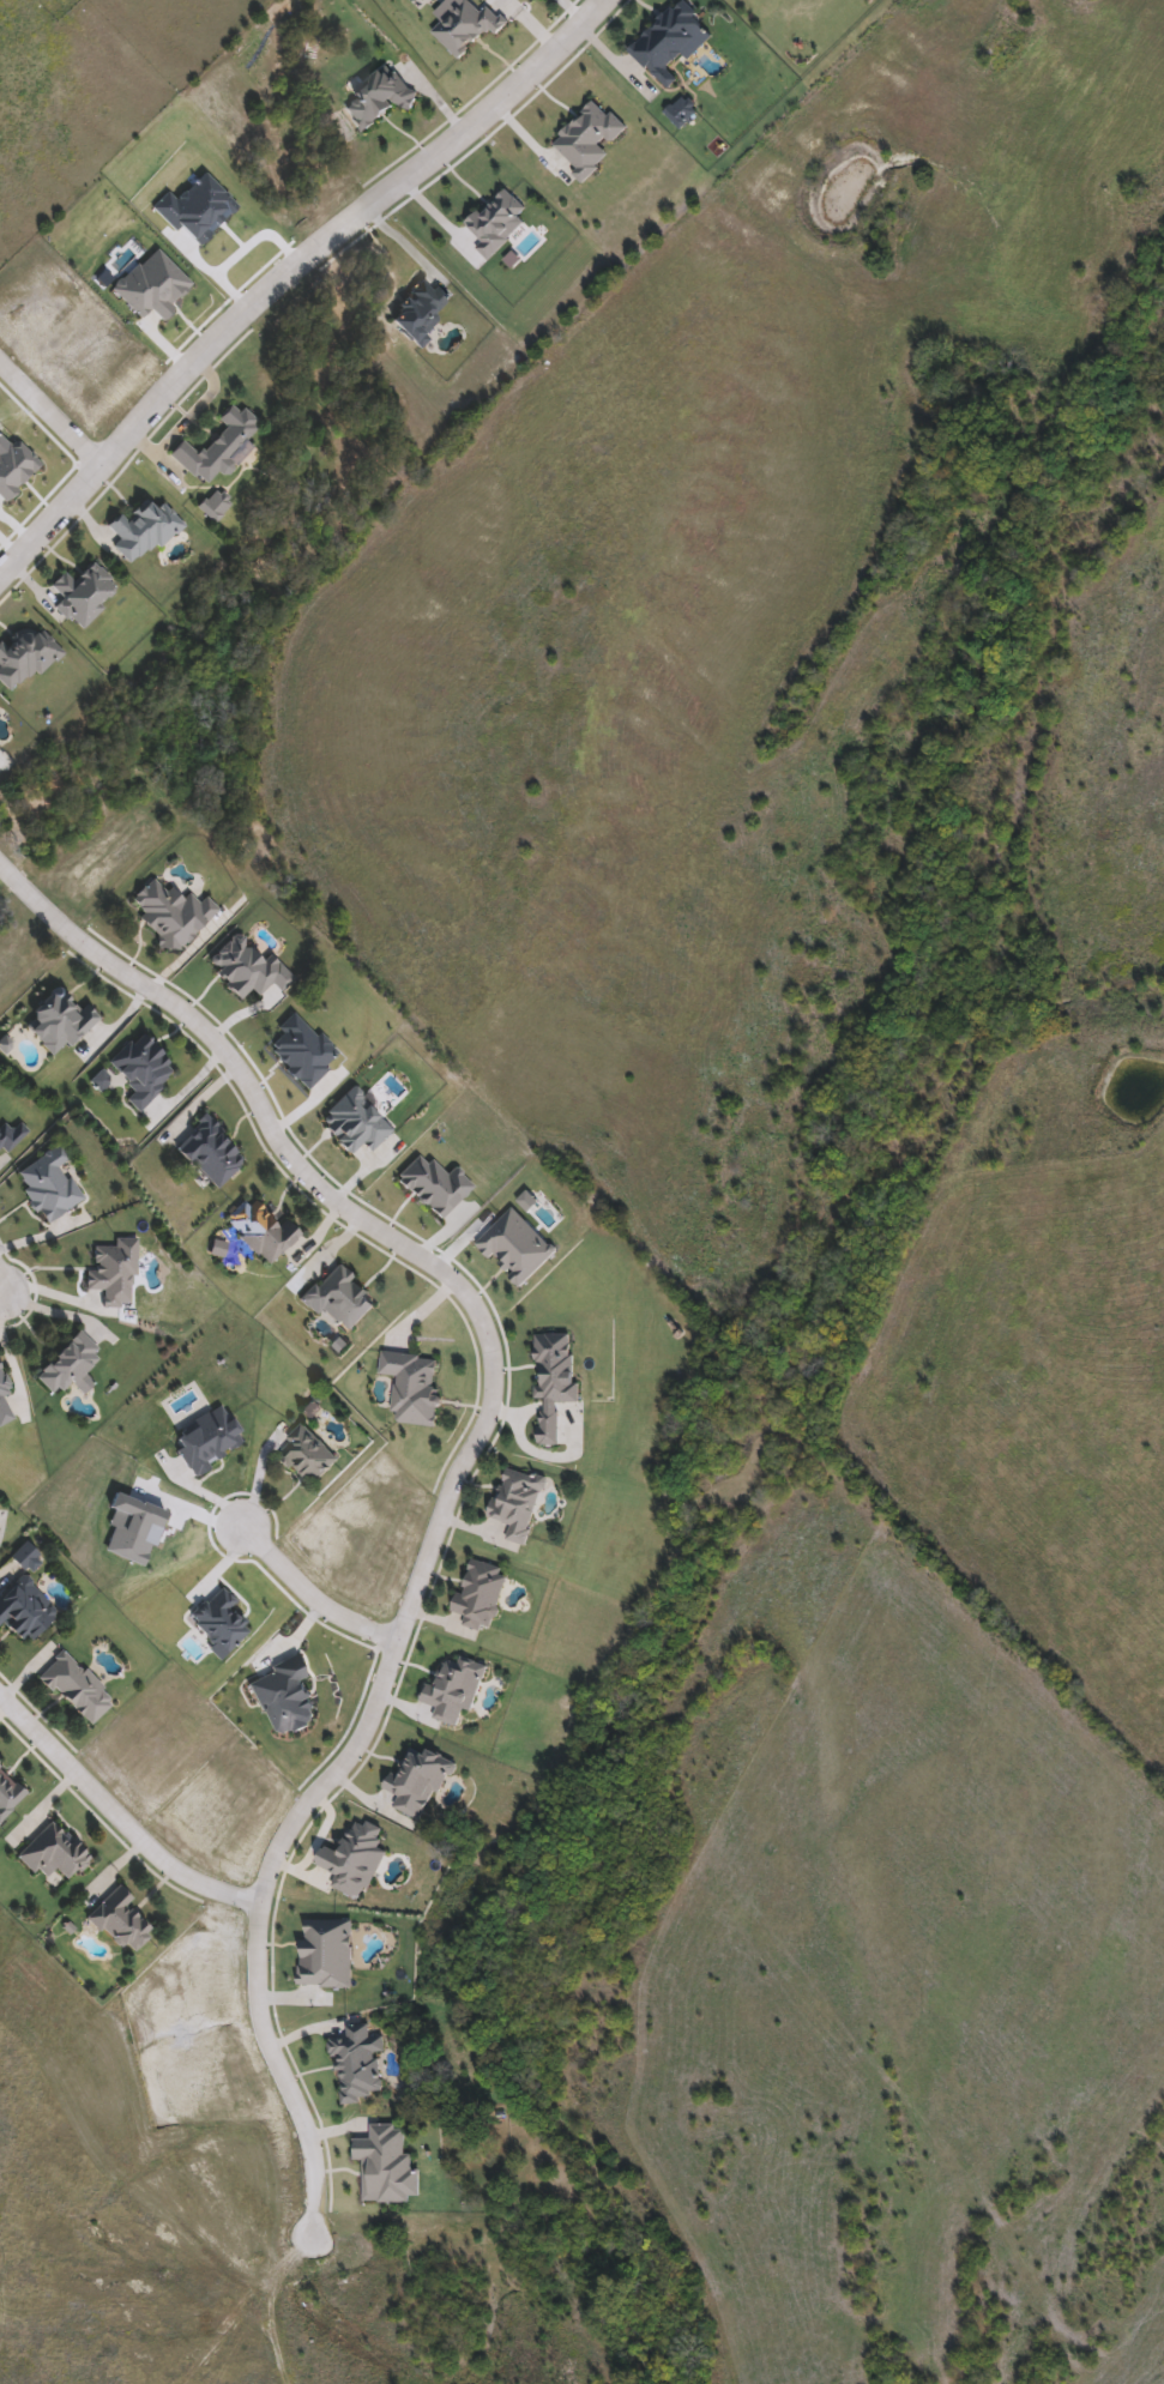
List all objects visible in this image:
building: (1001, 31)
building: (667, 43)
building: (376, 98)
building: (682, 113)
road: (288, 273)
building: (417, 312)
road: (52, 408)
building: (216, 447)
building: (213, 506)
building: (83, 595)
building: (58, 1022)
building: (141, 1072)
building: (11, 1136)
building: (209, 1153)
building: (47, 1184)
building: (260, 1231)
road: (2, 1292)
road: (56, 1296)
building: (67, 1364)
building: (4, 1402)
building: (308, 1457)
road: (463, 1468)
building: (515, 1505)
building: (481, 1597)
road: (312, 1599)
building: (24, 1600)
building: (76, 1688)
road: (116, 1817)
building: (53, 1857)
building: (117, 1921)

